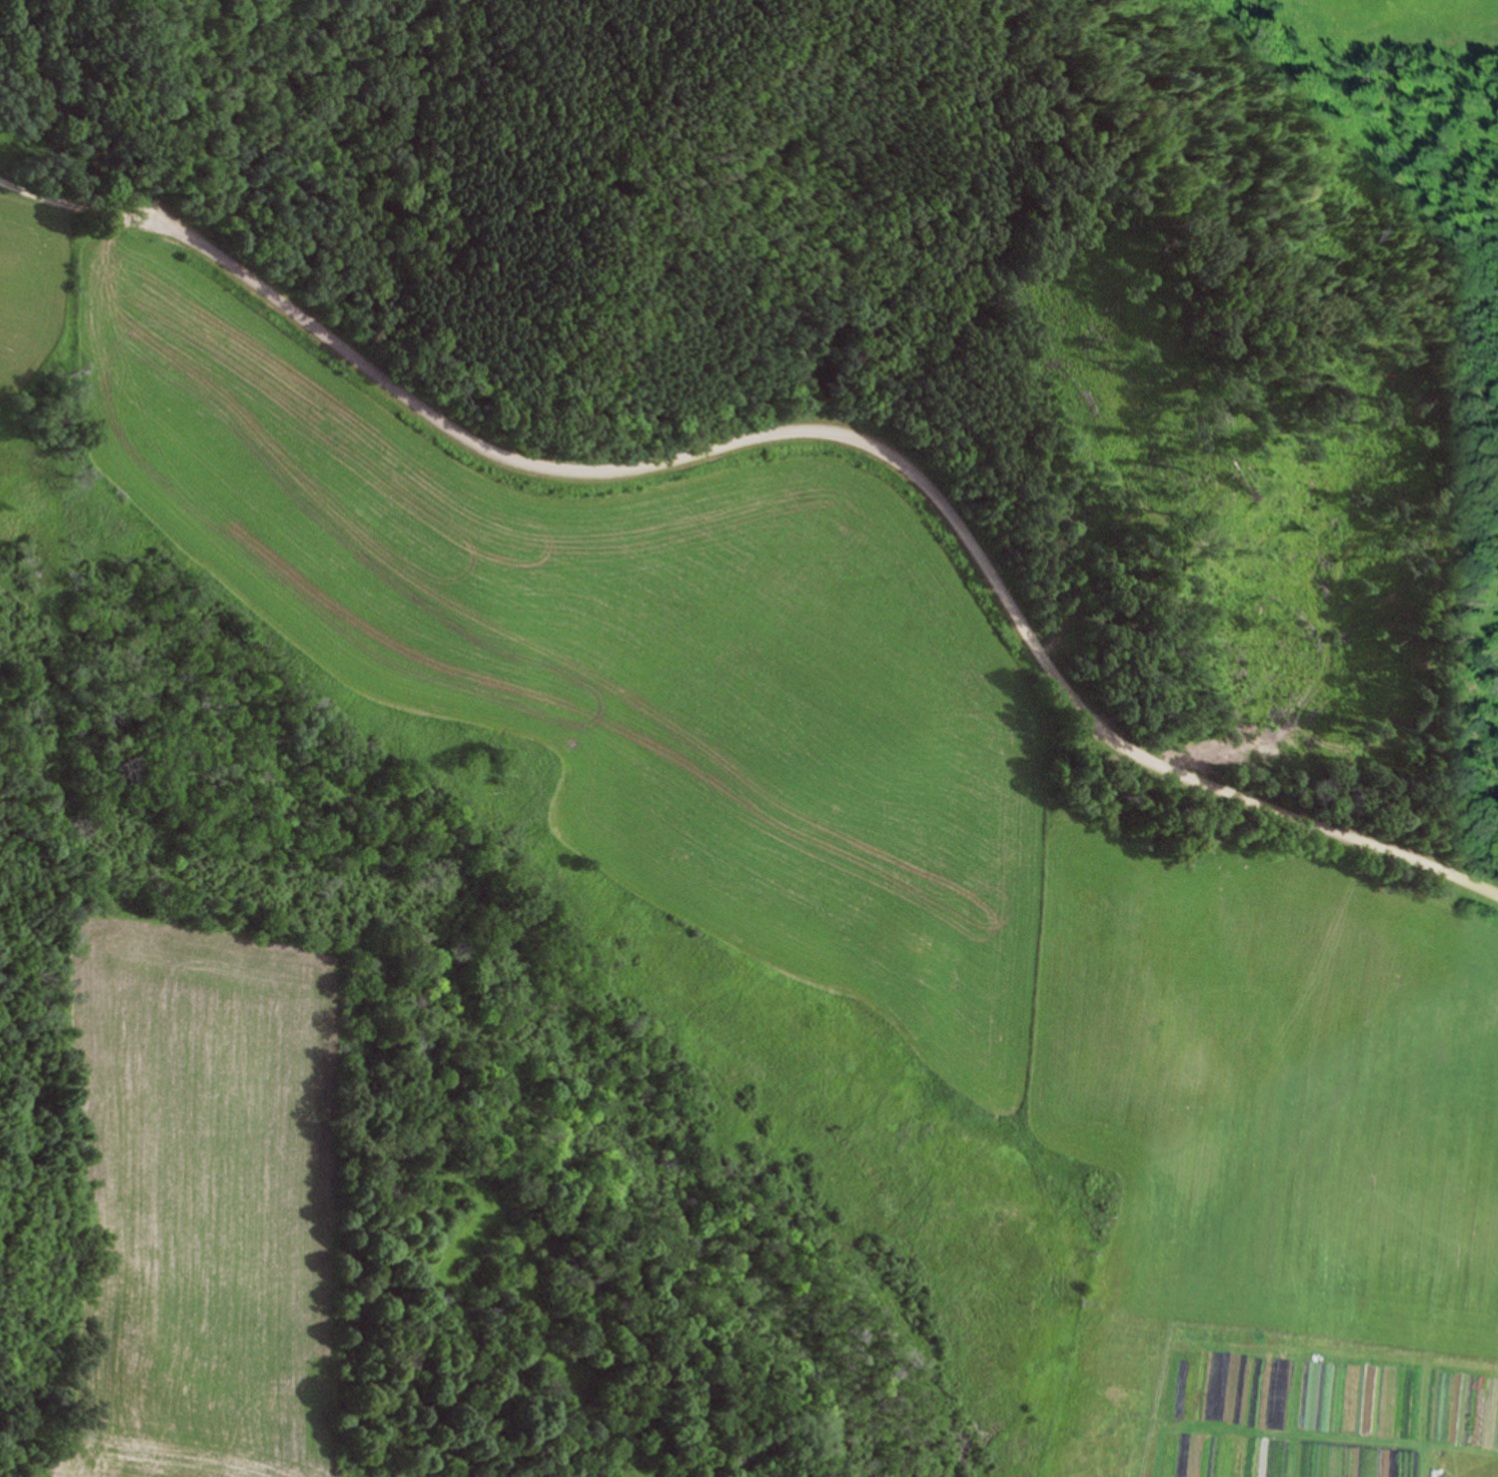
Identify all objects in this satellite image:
road: (94, 208)
road: (887, 451)
crop: (889, 837)
crop: (213, 1202)

